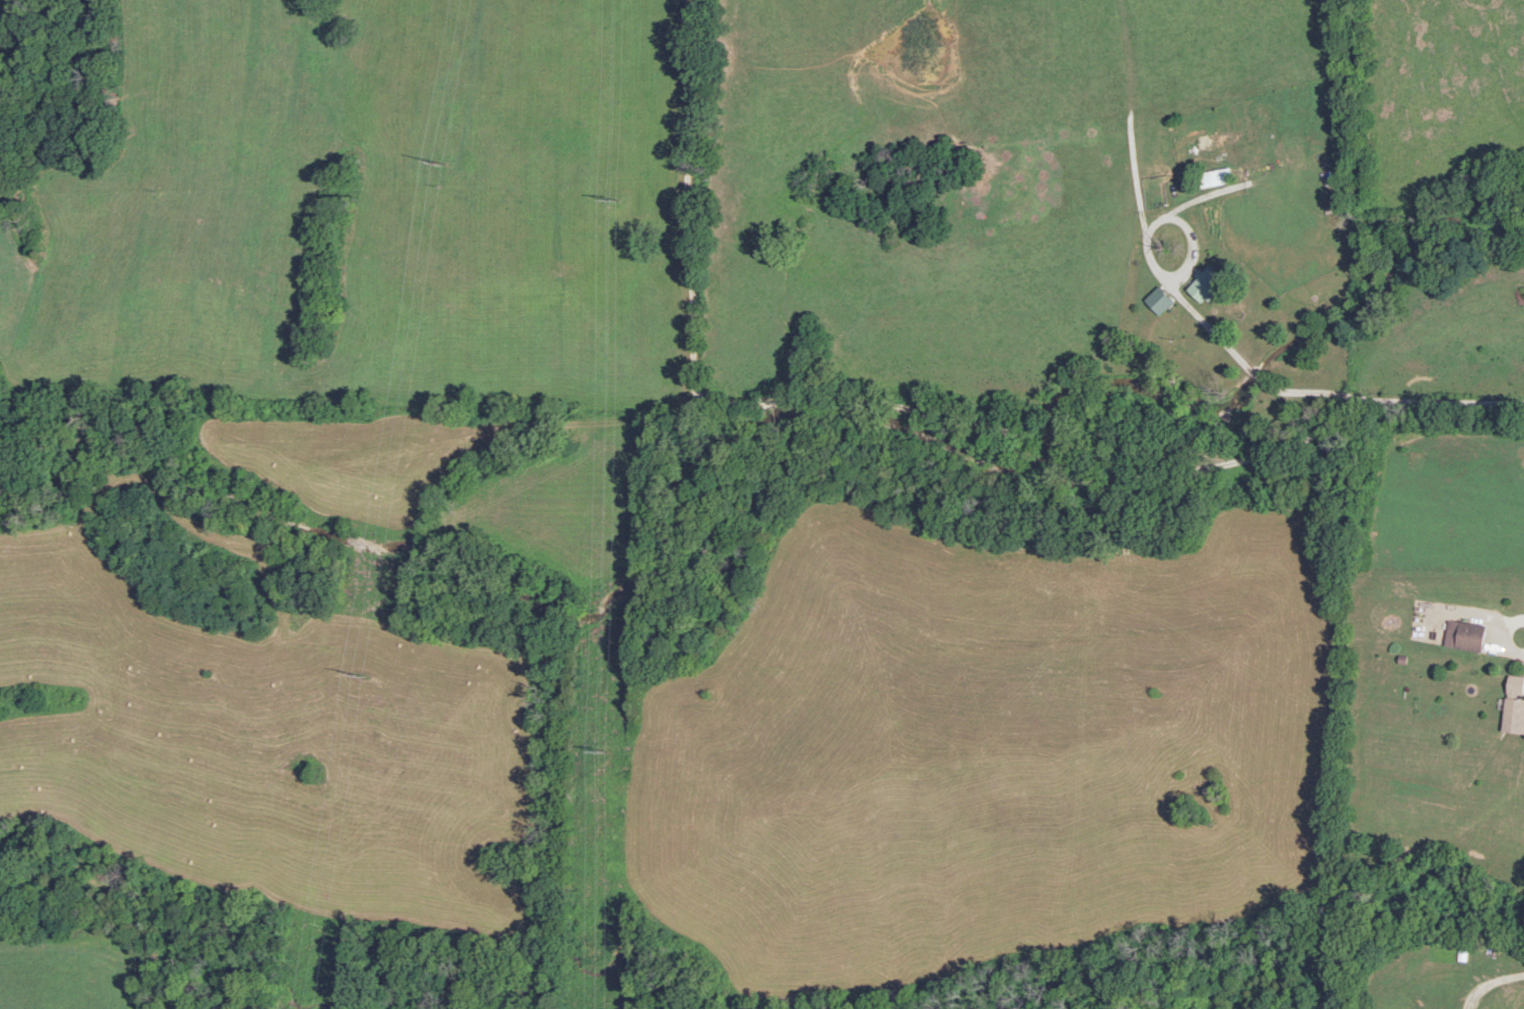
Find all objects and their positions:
power tower: (440, 157)
building: (1215, 176)
power tower: (615, 198)
building: (1207, 283)
road: (913, 415)
building: (1466, 634)
power tower: (358, 673)
building: (1515, 702)
power tower: (605, 744)

